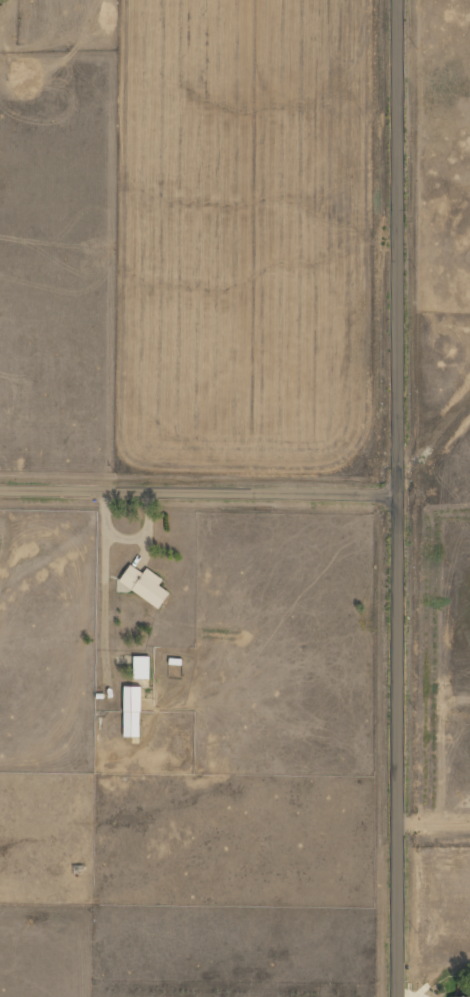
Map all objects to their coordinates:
road: (200, 490)
road: (401, 498)
building: (147, 586)
building: (143, 667)
building: (133, 712)
building: (457, 996)

